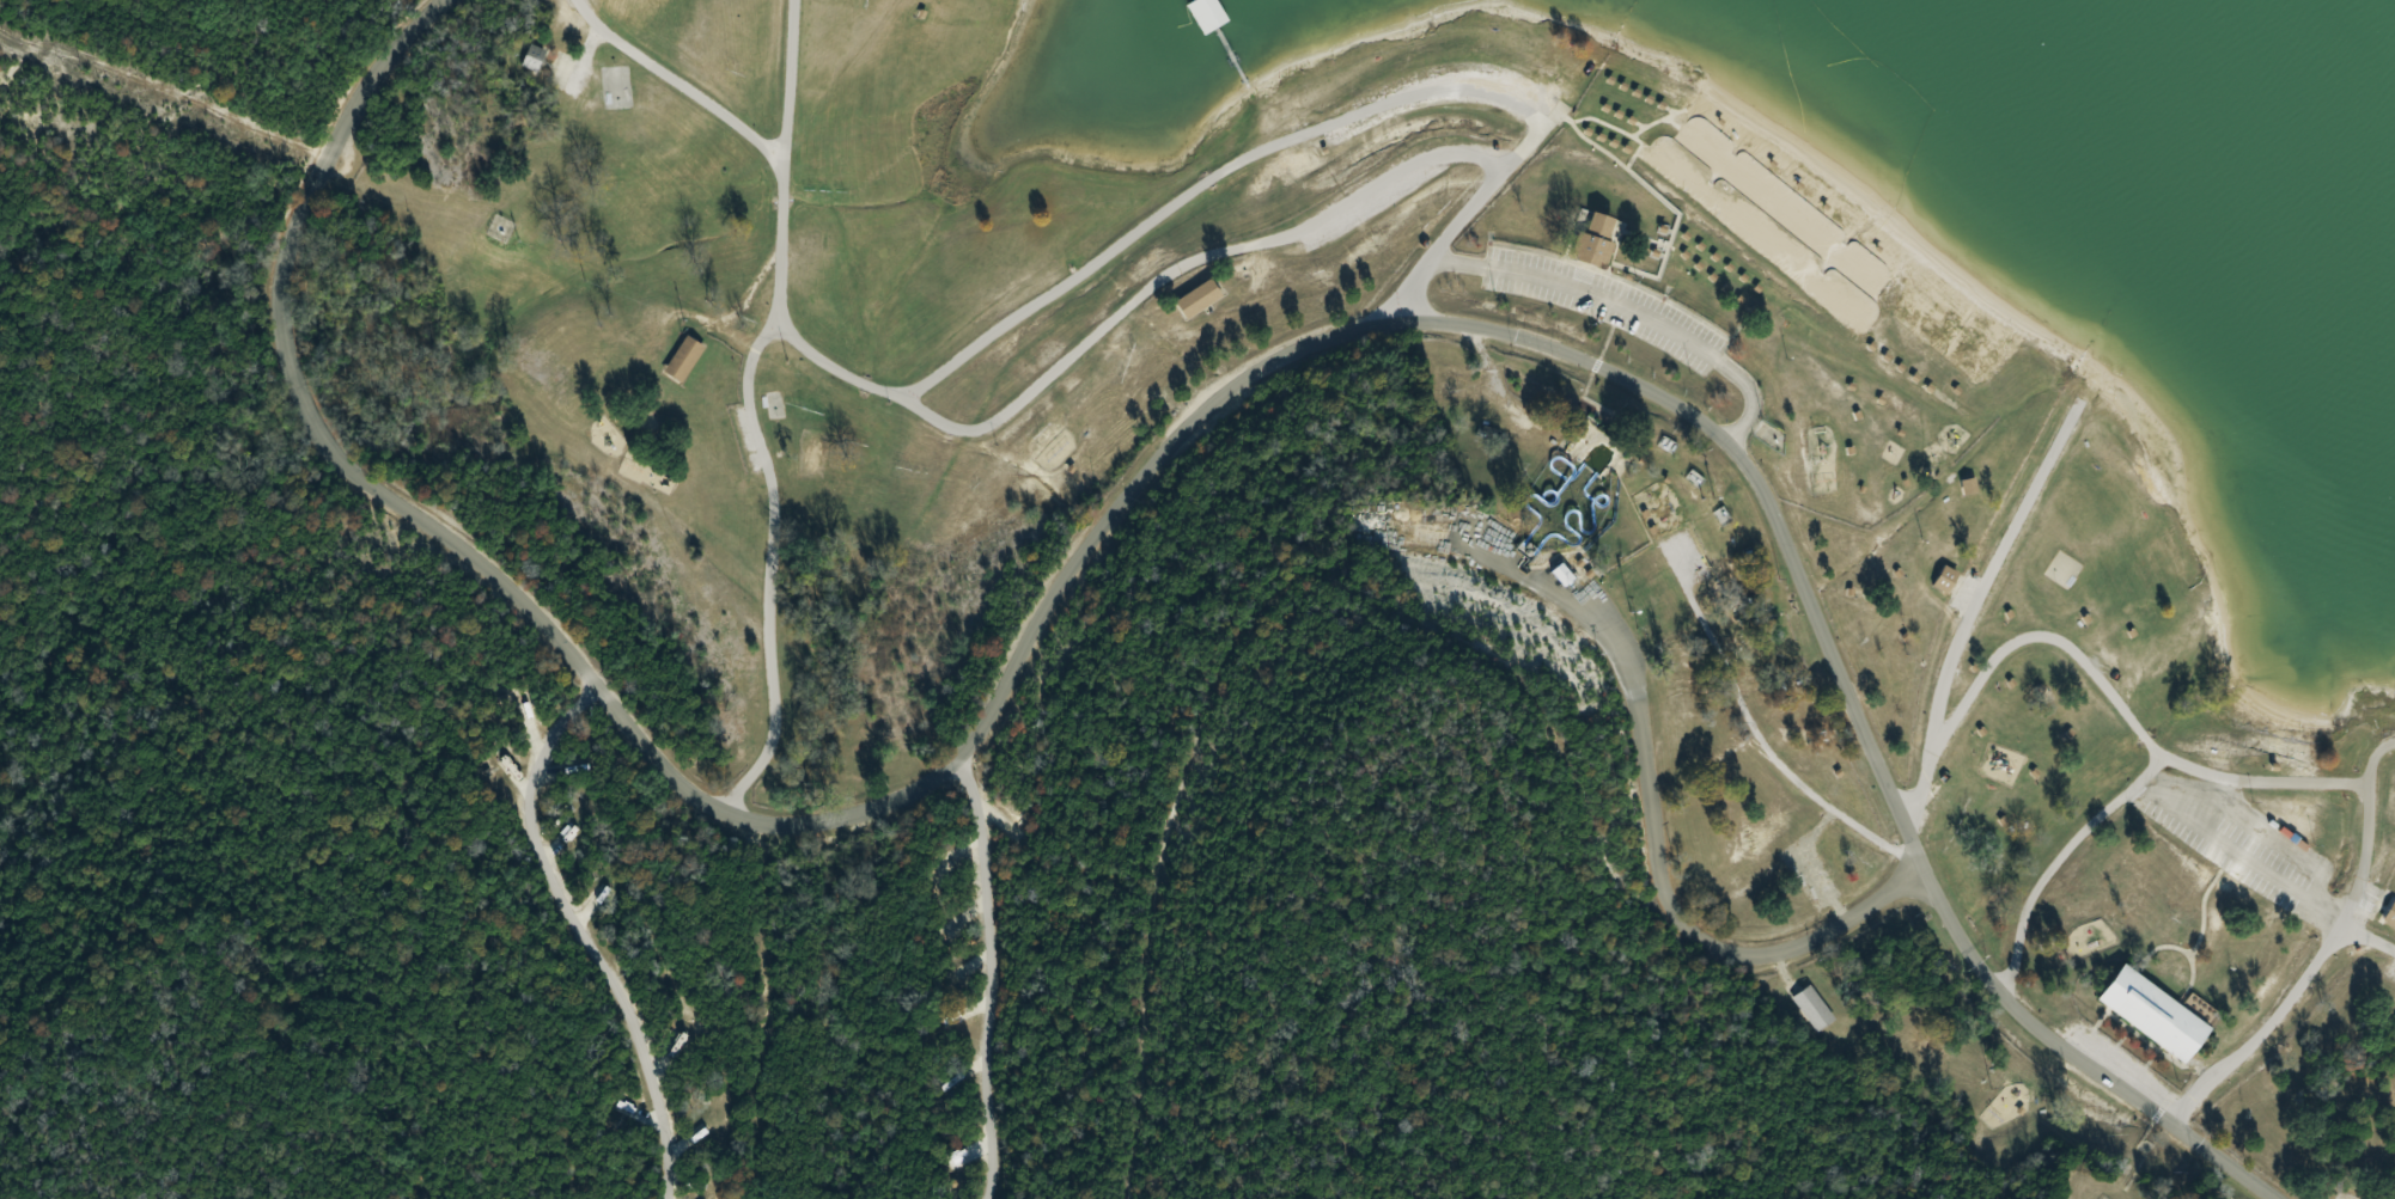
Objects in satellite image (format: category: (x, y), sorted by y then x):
building: (1193, 18)
building: (532, 59)
building: (1595, 243)
road: (1593, 289)
building: (1197, 300)
building: (682, 361)
building: (779, 414)
road: (1131, 477)
building: (1564, 576)
building: (1944, 580)
road: (1969, 601)
park: (1095, 648)
road: (1649, 831)
building: (2390, 916)
road: (2317, 944)
building: (1814, 1009)
building: (2152, 1015)
building: (676, 1051)

